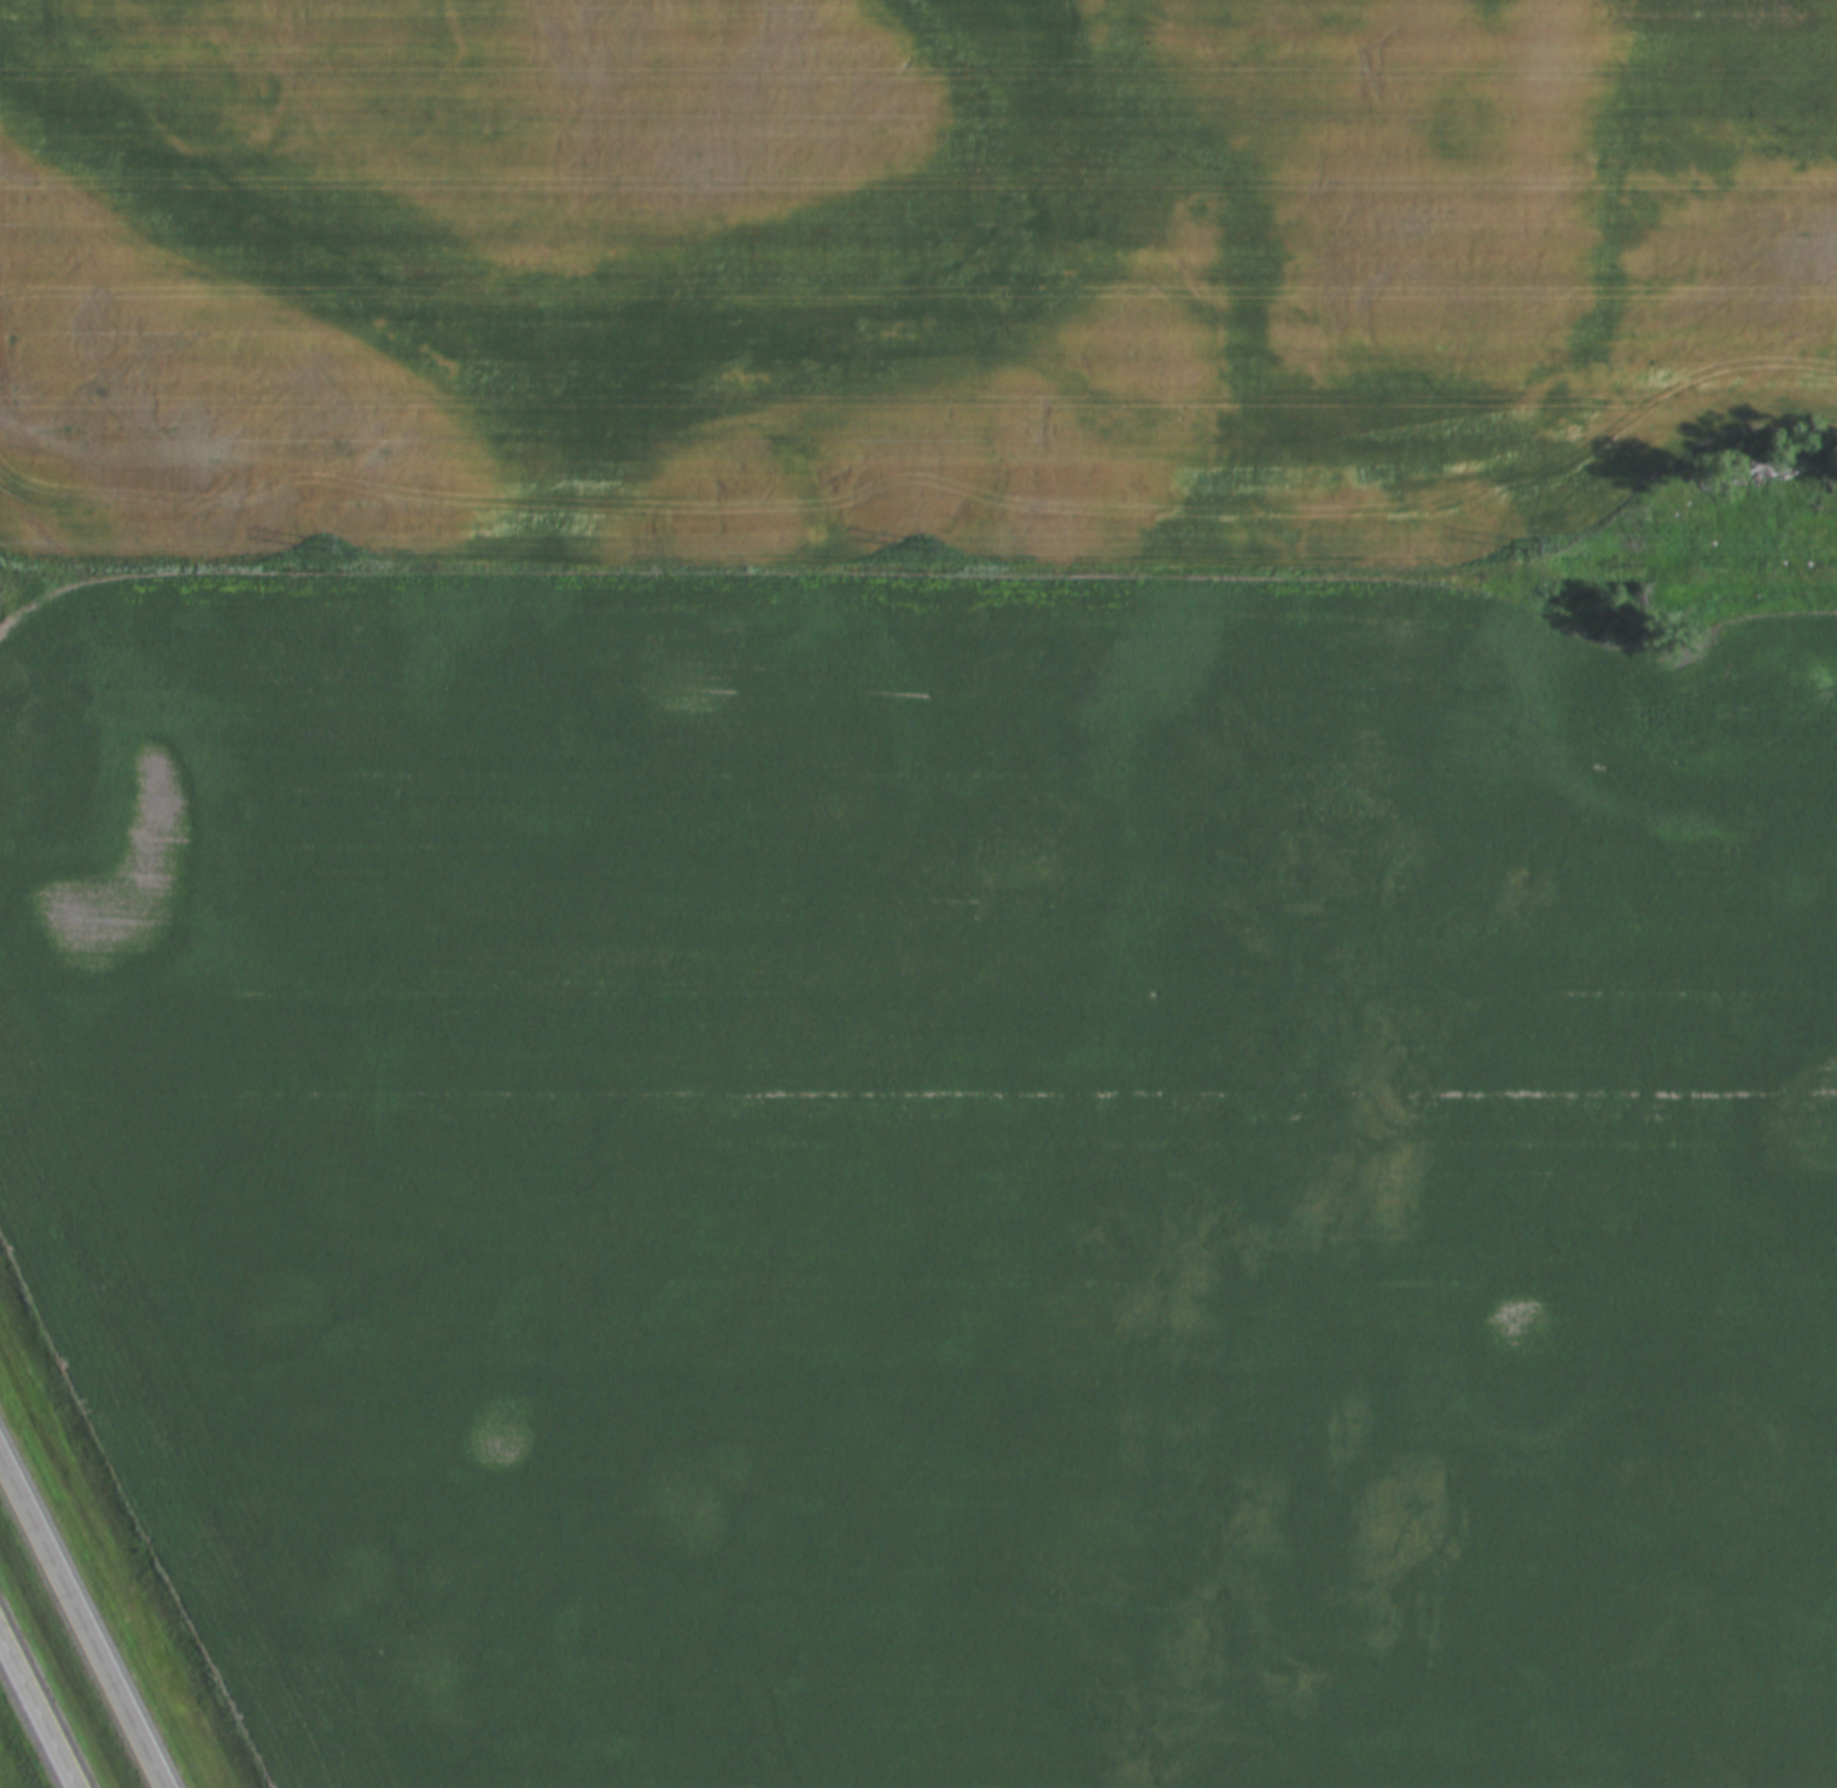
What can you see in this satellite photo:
road: (83, 1618)
road: (37, 1712)

